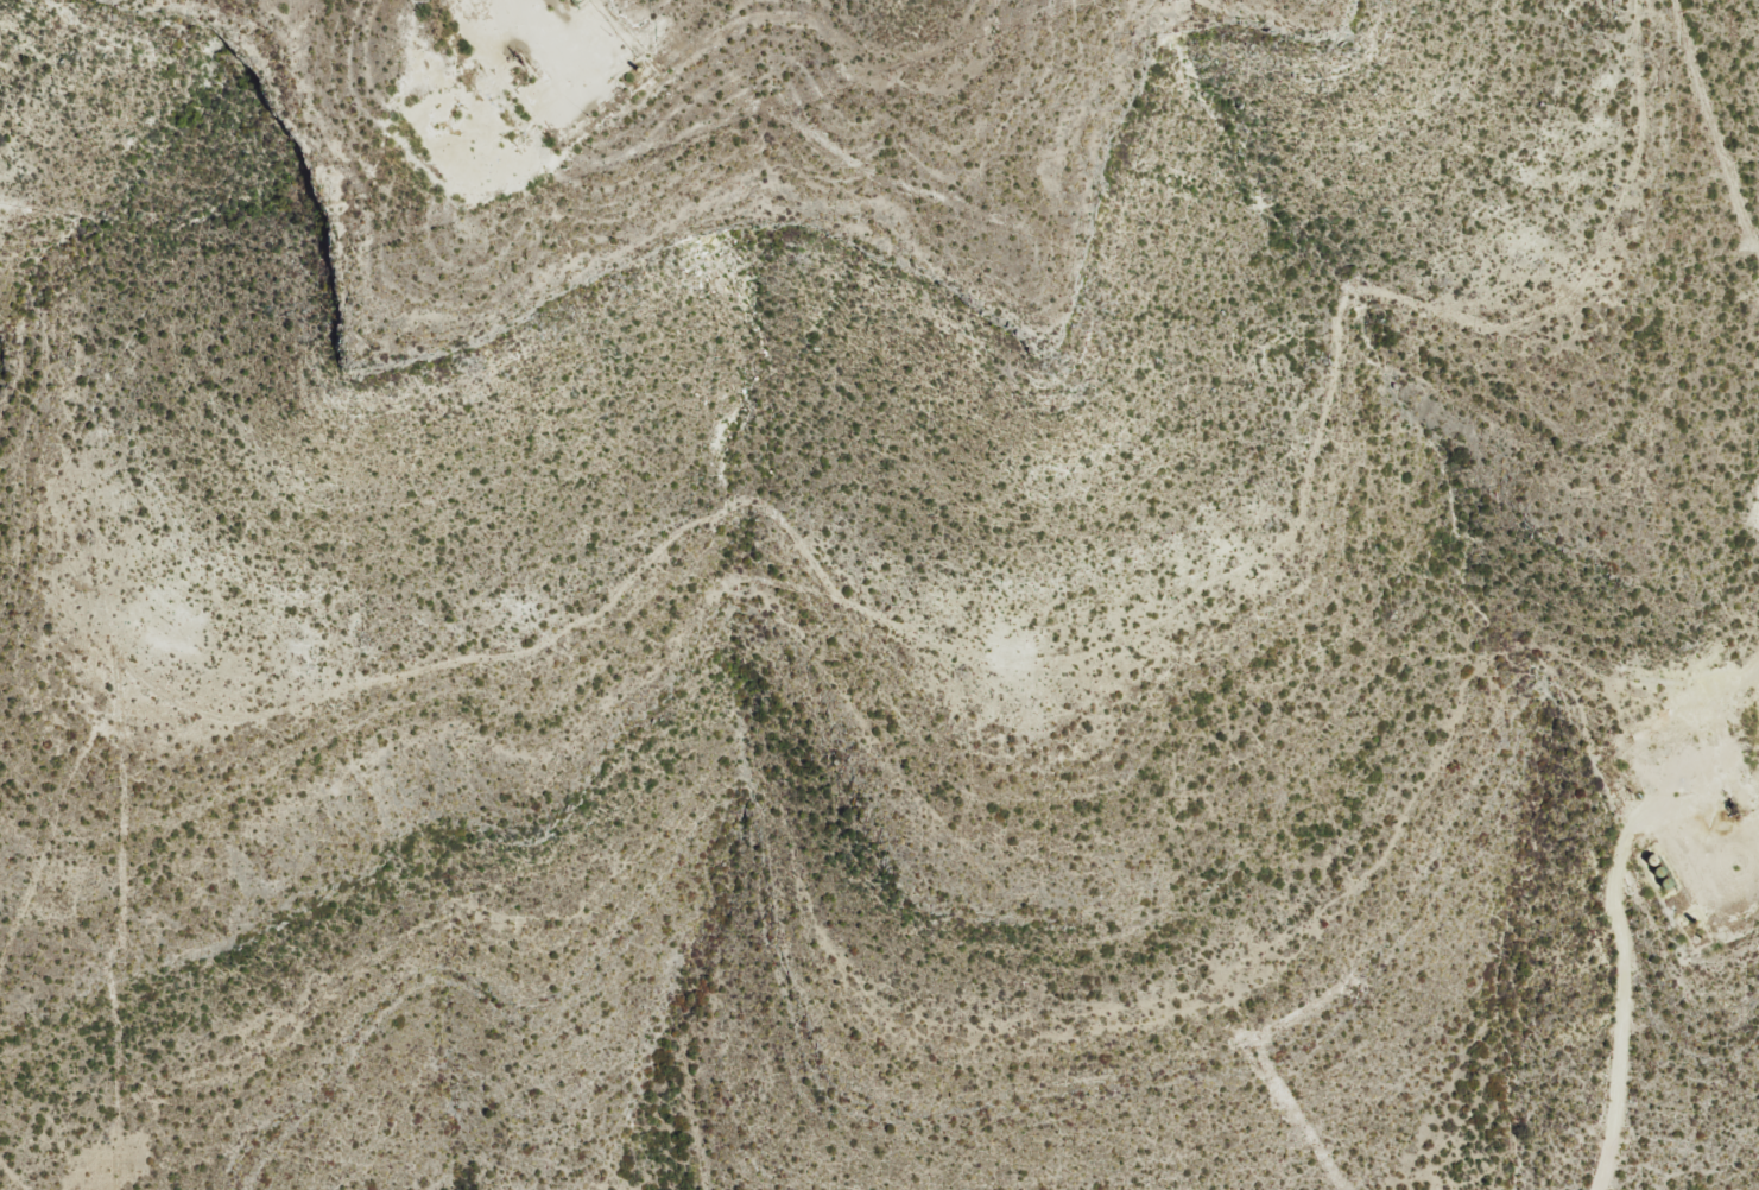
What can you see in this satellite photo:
road: (1650, 943)

